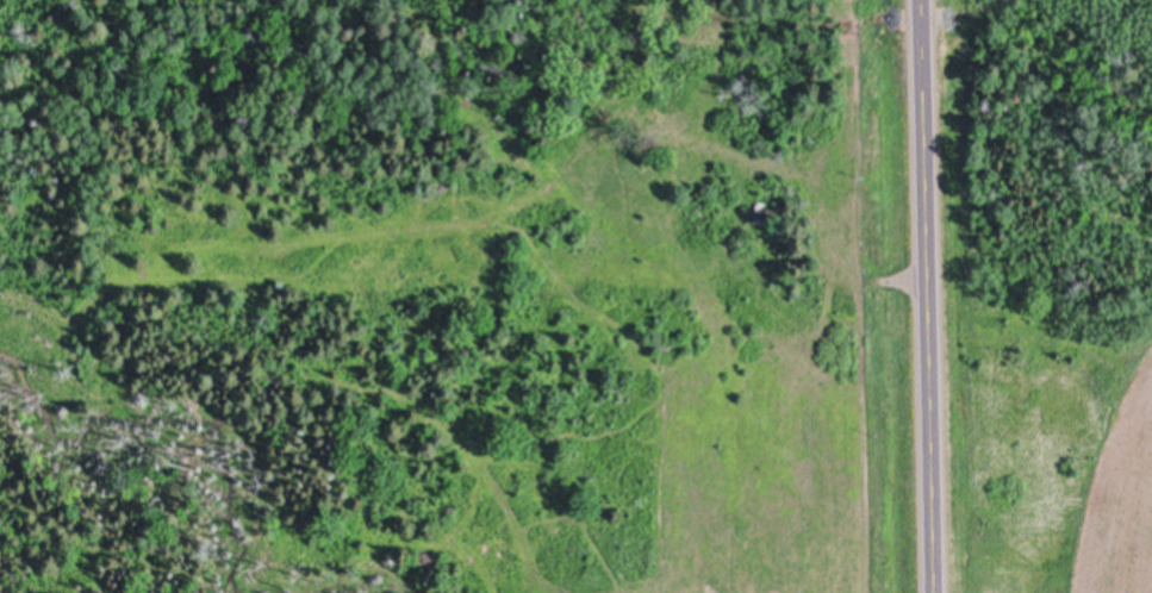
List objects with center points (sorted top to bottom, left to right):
road: (924, 296)

